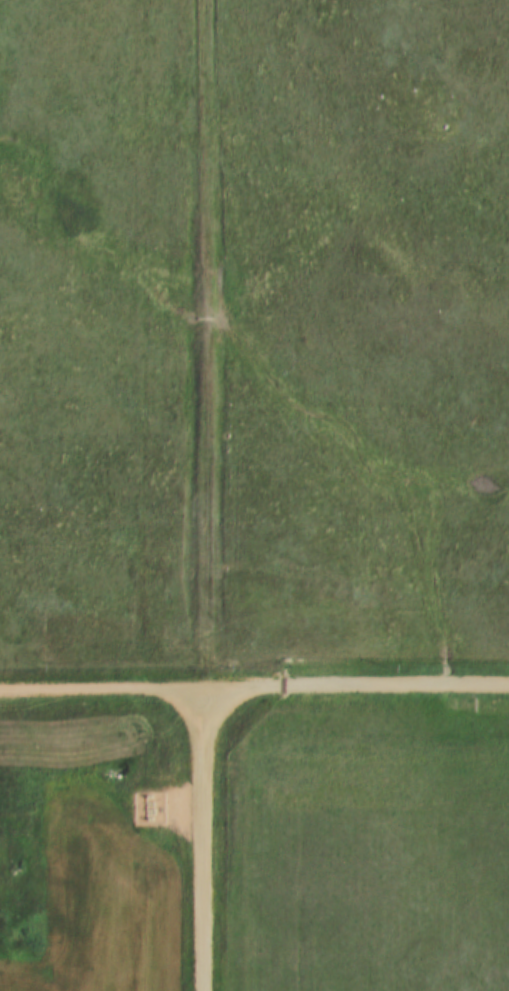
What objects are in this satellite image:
road: (254, 680)
road: (199, 837)

